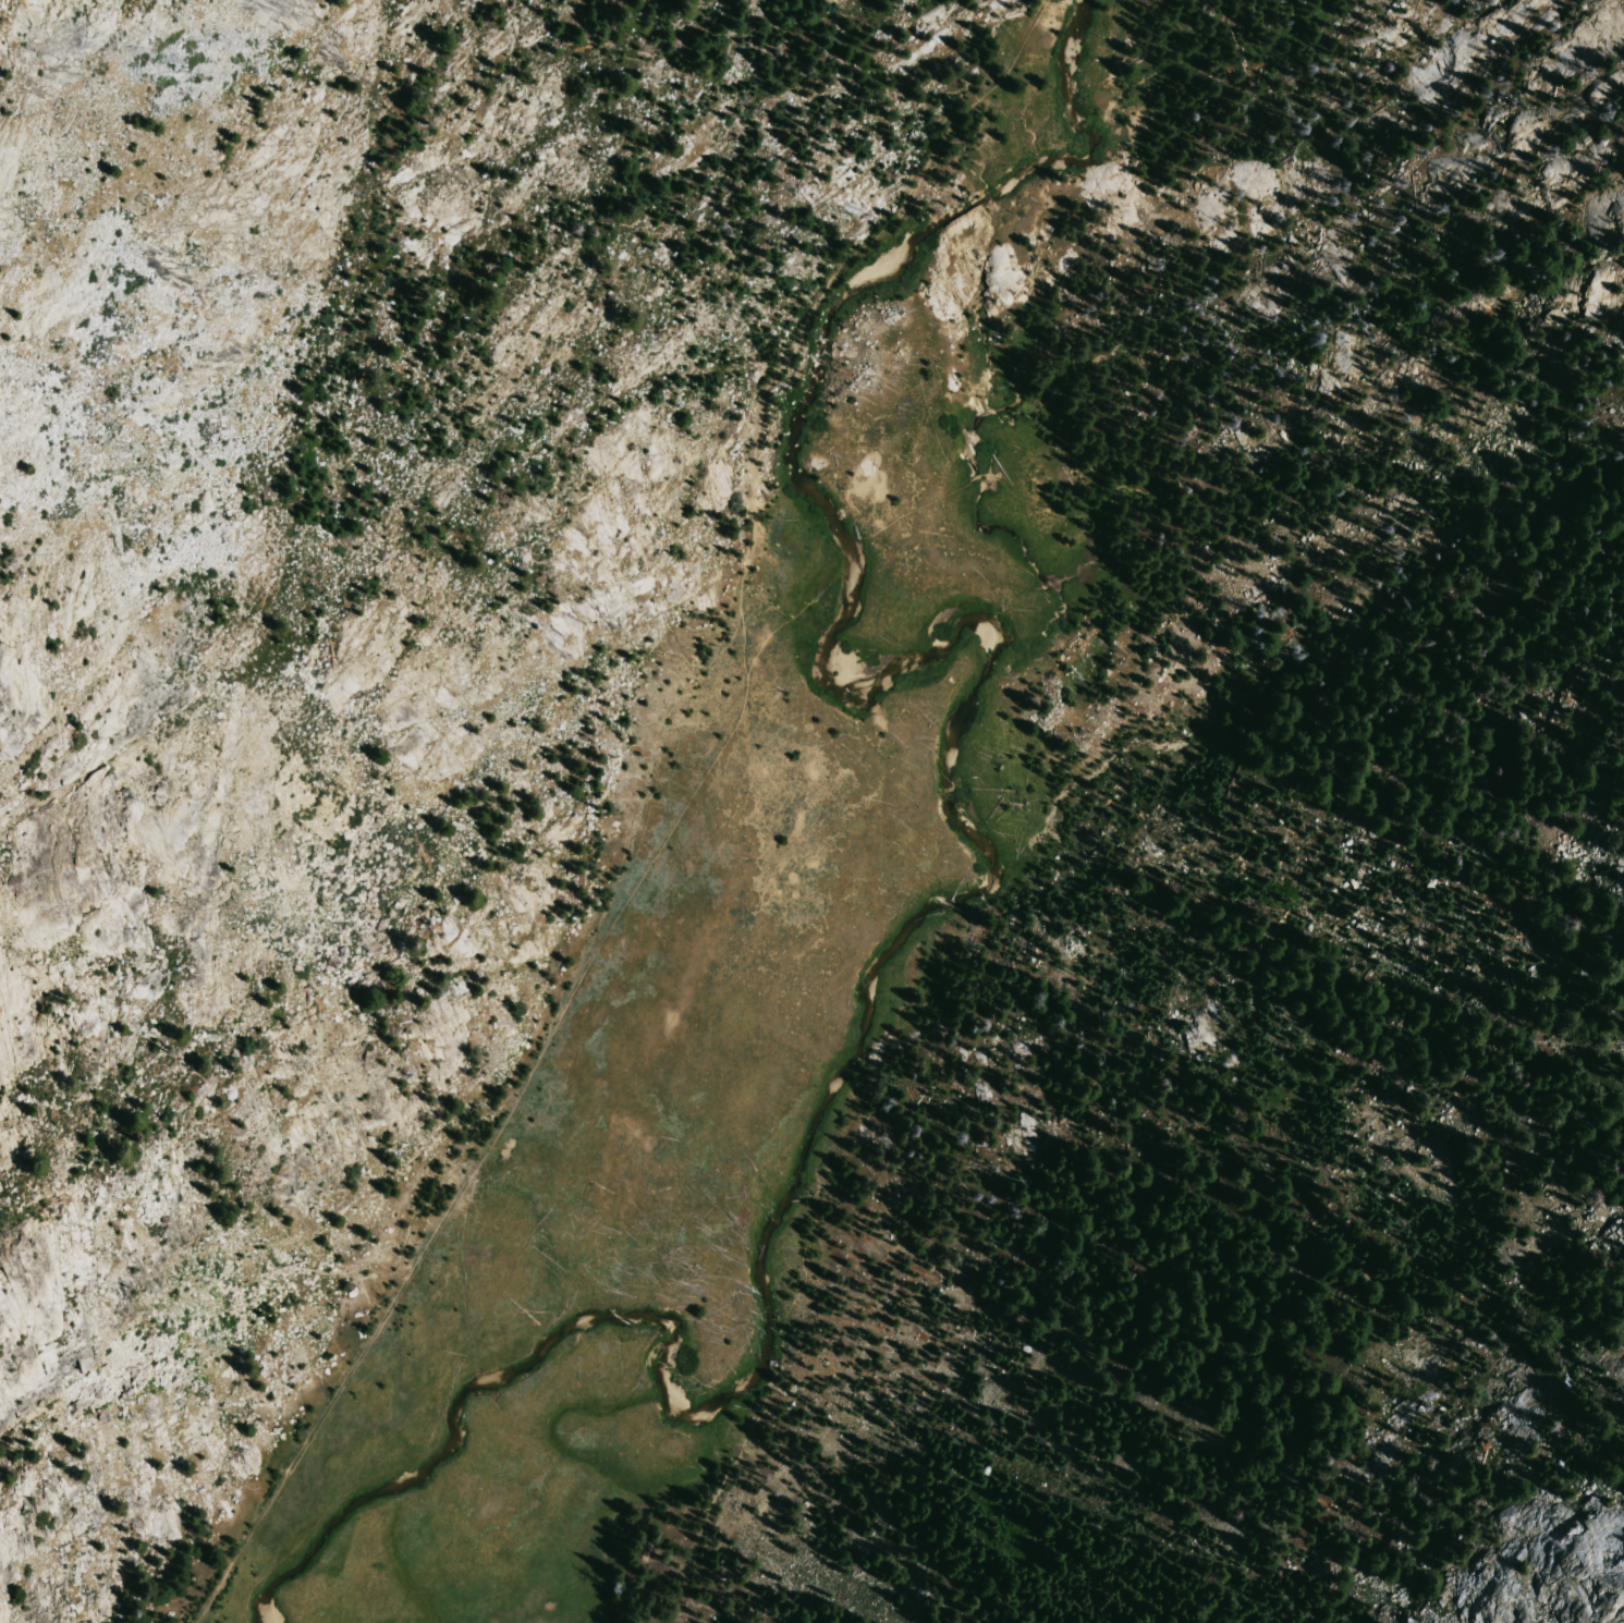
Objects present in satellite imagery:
road: (674, 822)

